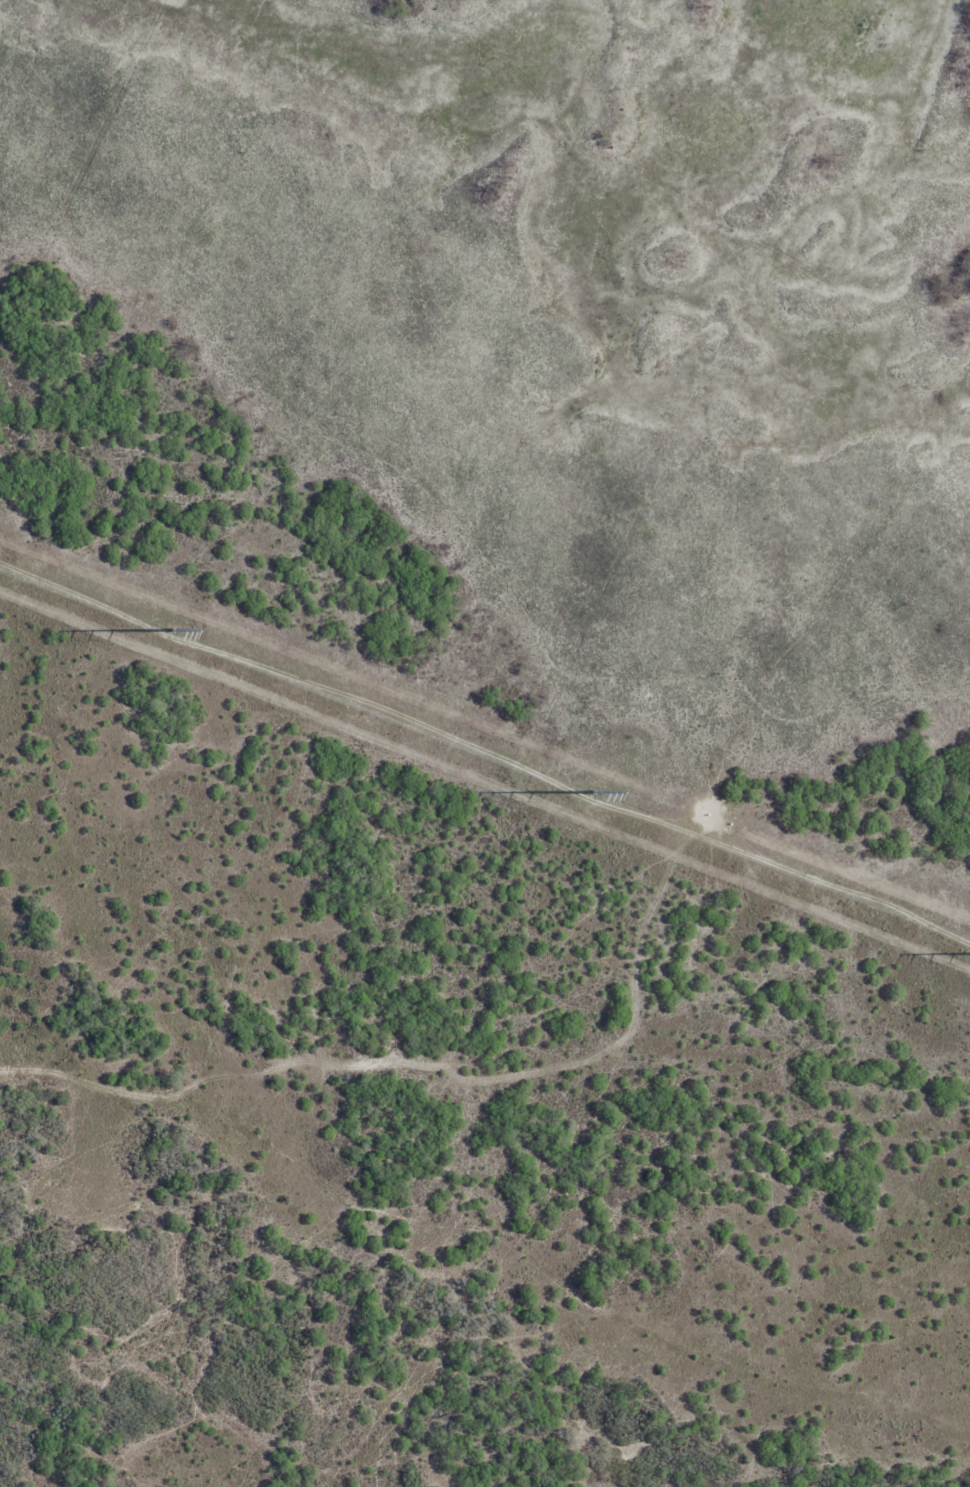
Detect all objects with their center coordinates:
power tower: (183, 639)
power tower: (598, 798)
road: (498, 1131)

